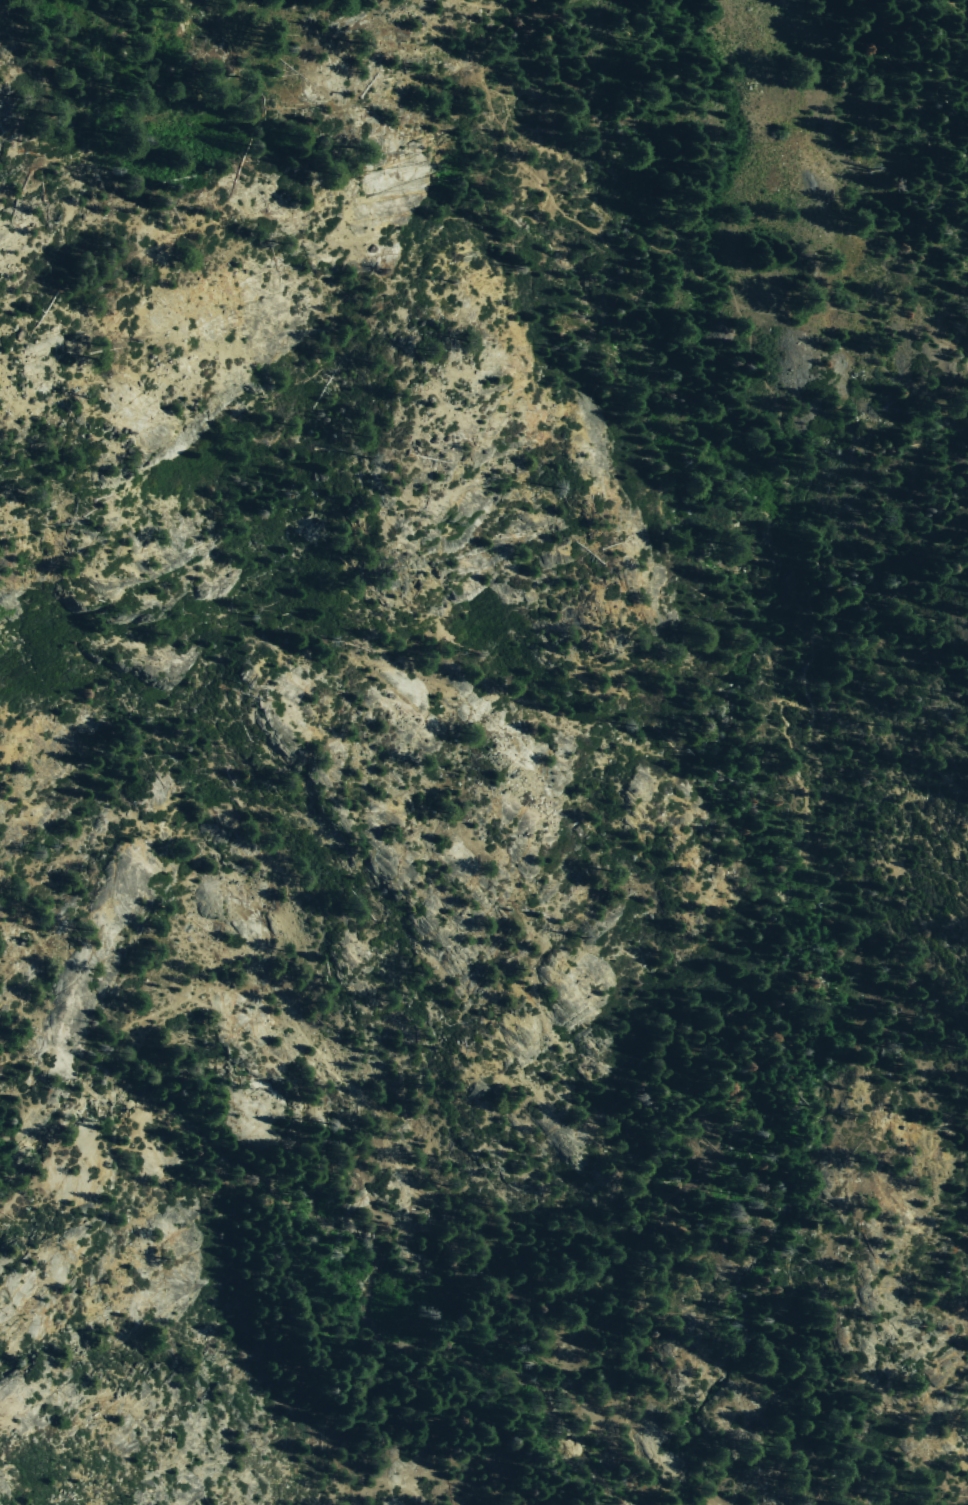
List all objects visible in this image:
road: (648, 242)
road: (780, 943)
road: (269, 1287)

